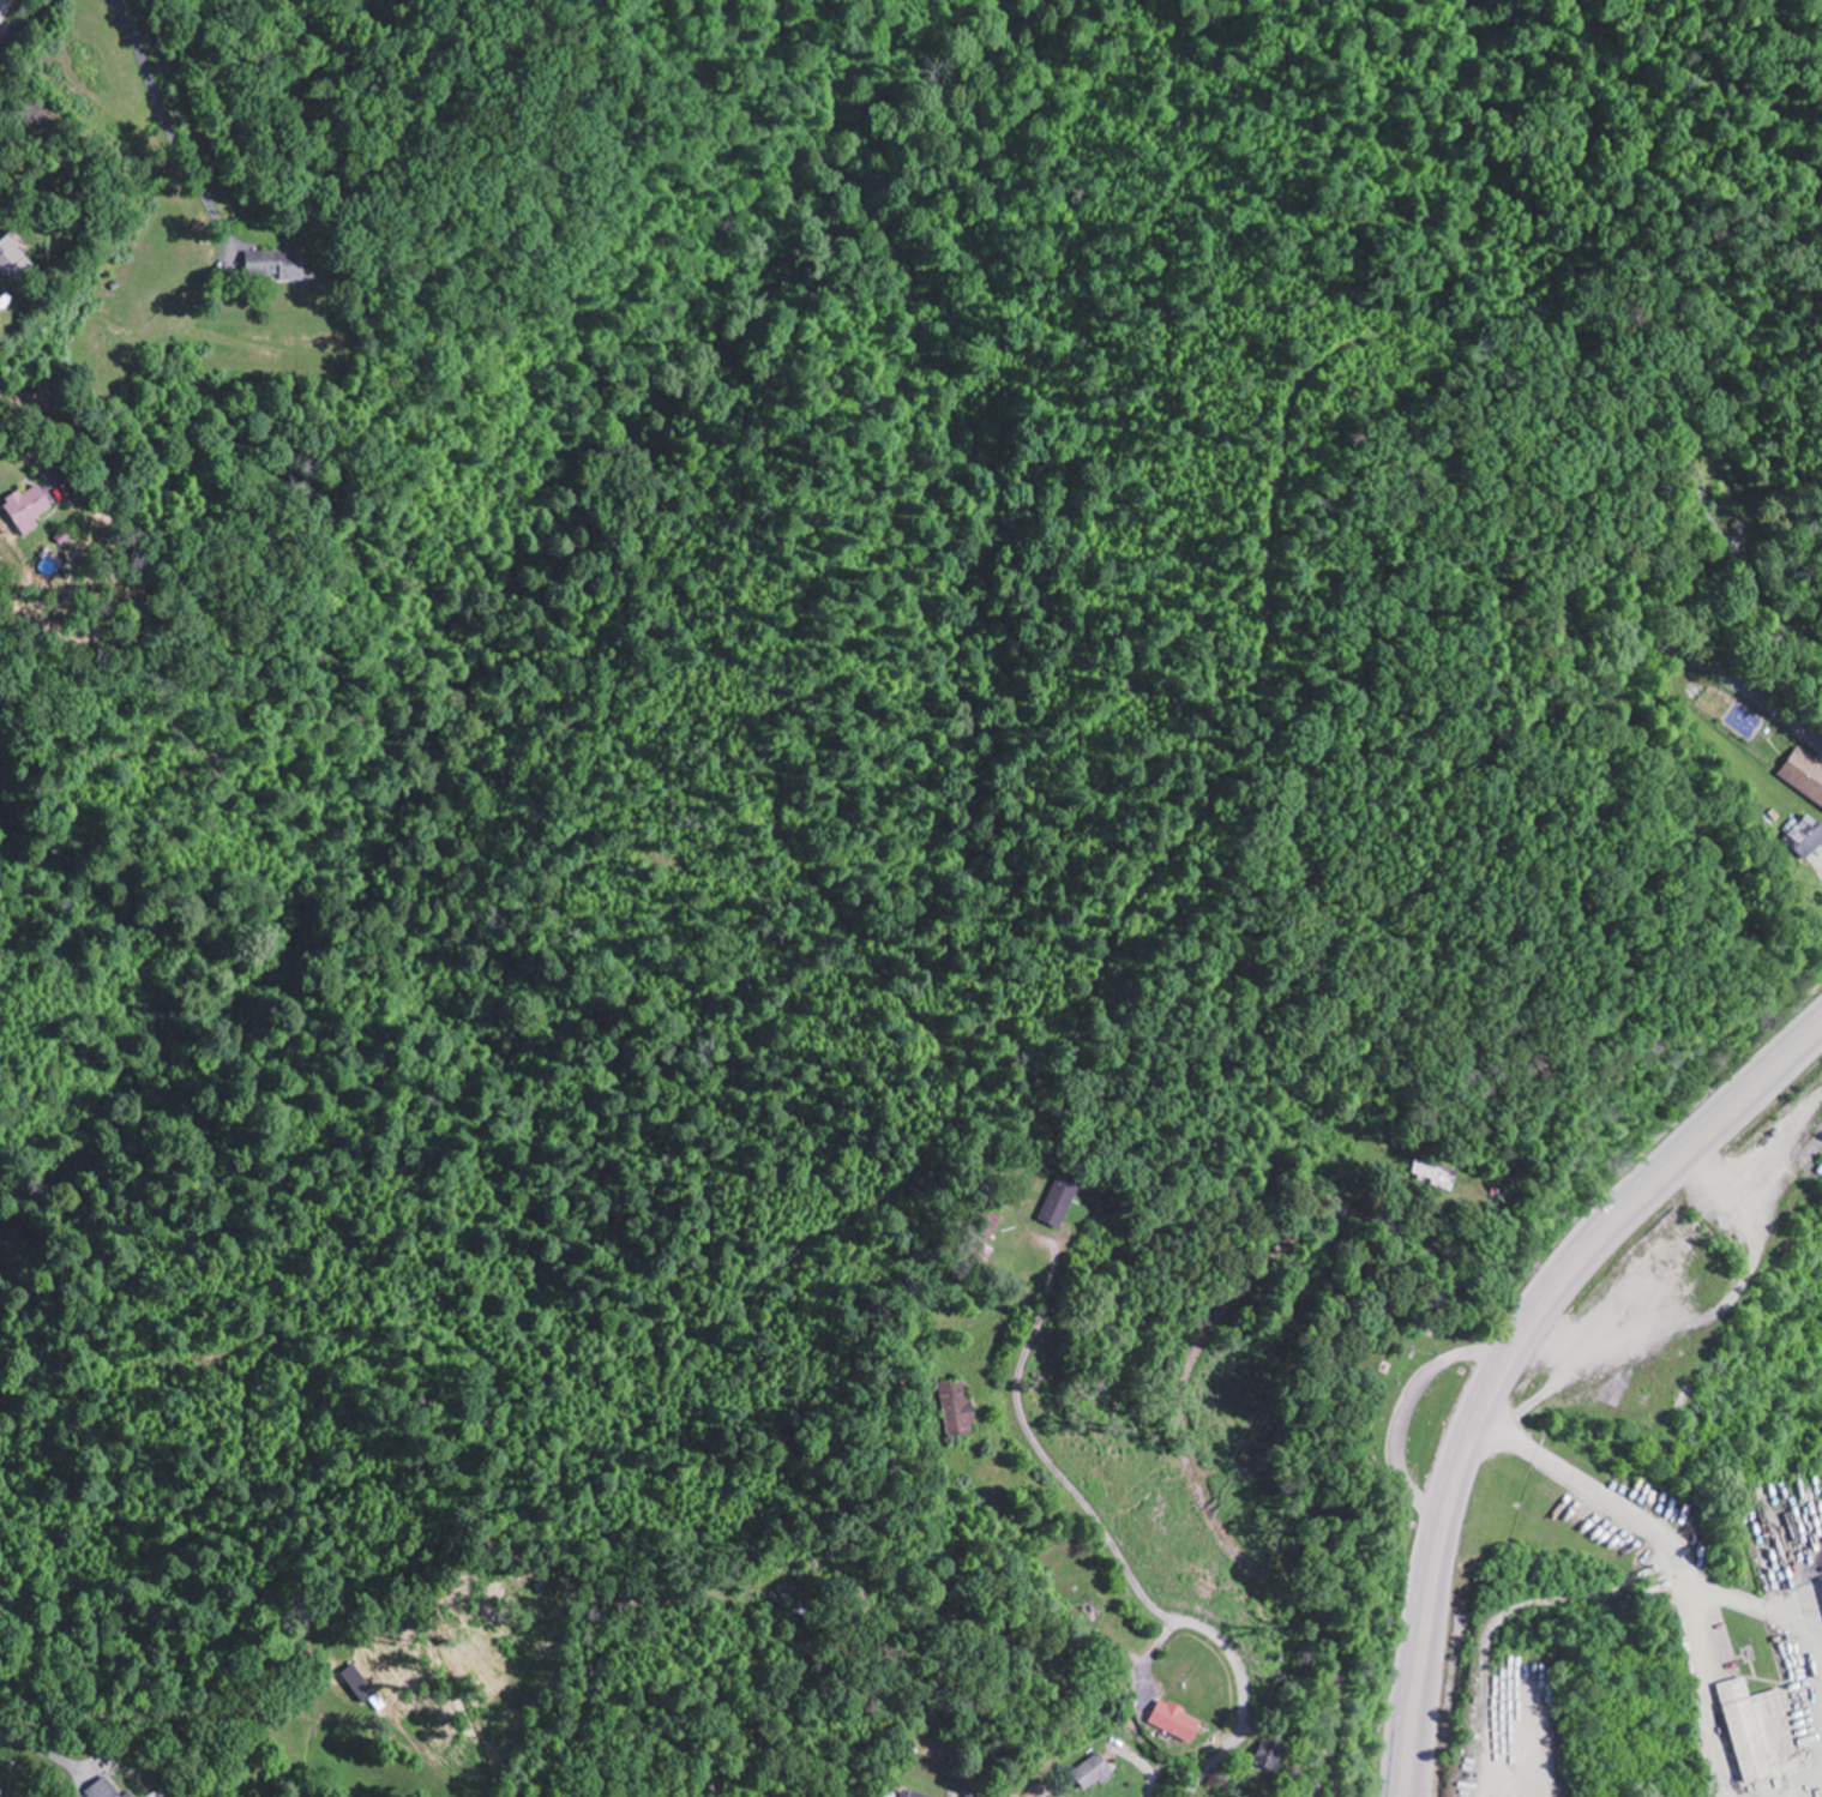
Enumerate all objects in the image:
road: (5, 8)
road: (25, 24)
road: (229, 244)
building: (14, 259)
building: (278, 265)
road: (30, 459)
building: (29, 509)
building: (1804, 775)
building: (1804, 836)
road: (1508, 1352)
building: (957, 1410)
road: (1198, 1496)
road: (1123, 1570)
building: (361, 1684)
road: (243, 1712)
building: (1175, 1721)
building: (1755, 1729)
building: (1270, 1754)
building: (1094, 1772)
building: (104, 1790)
building: (130, 1795)
building: (915, 1795)

